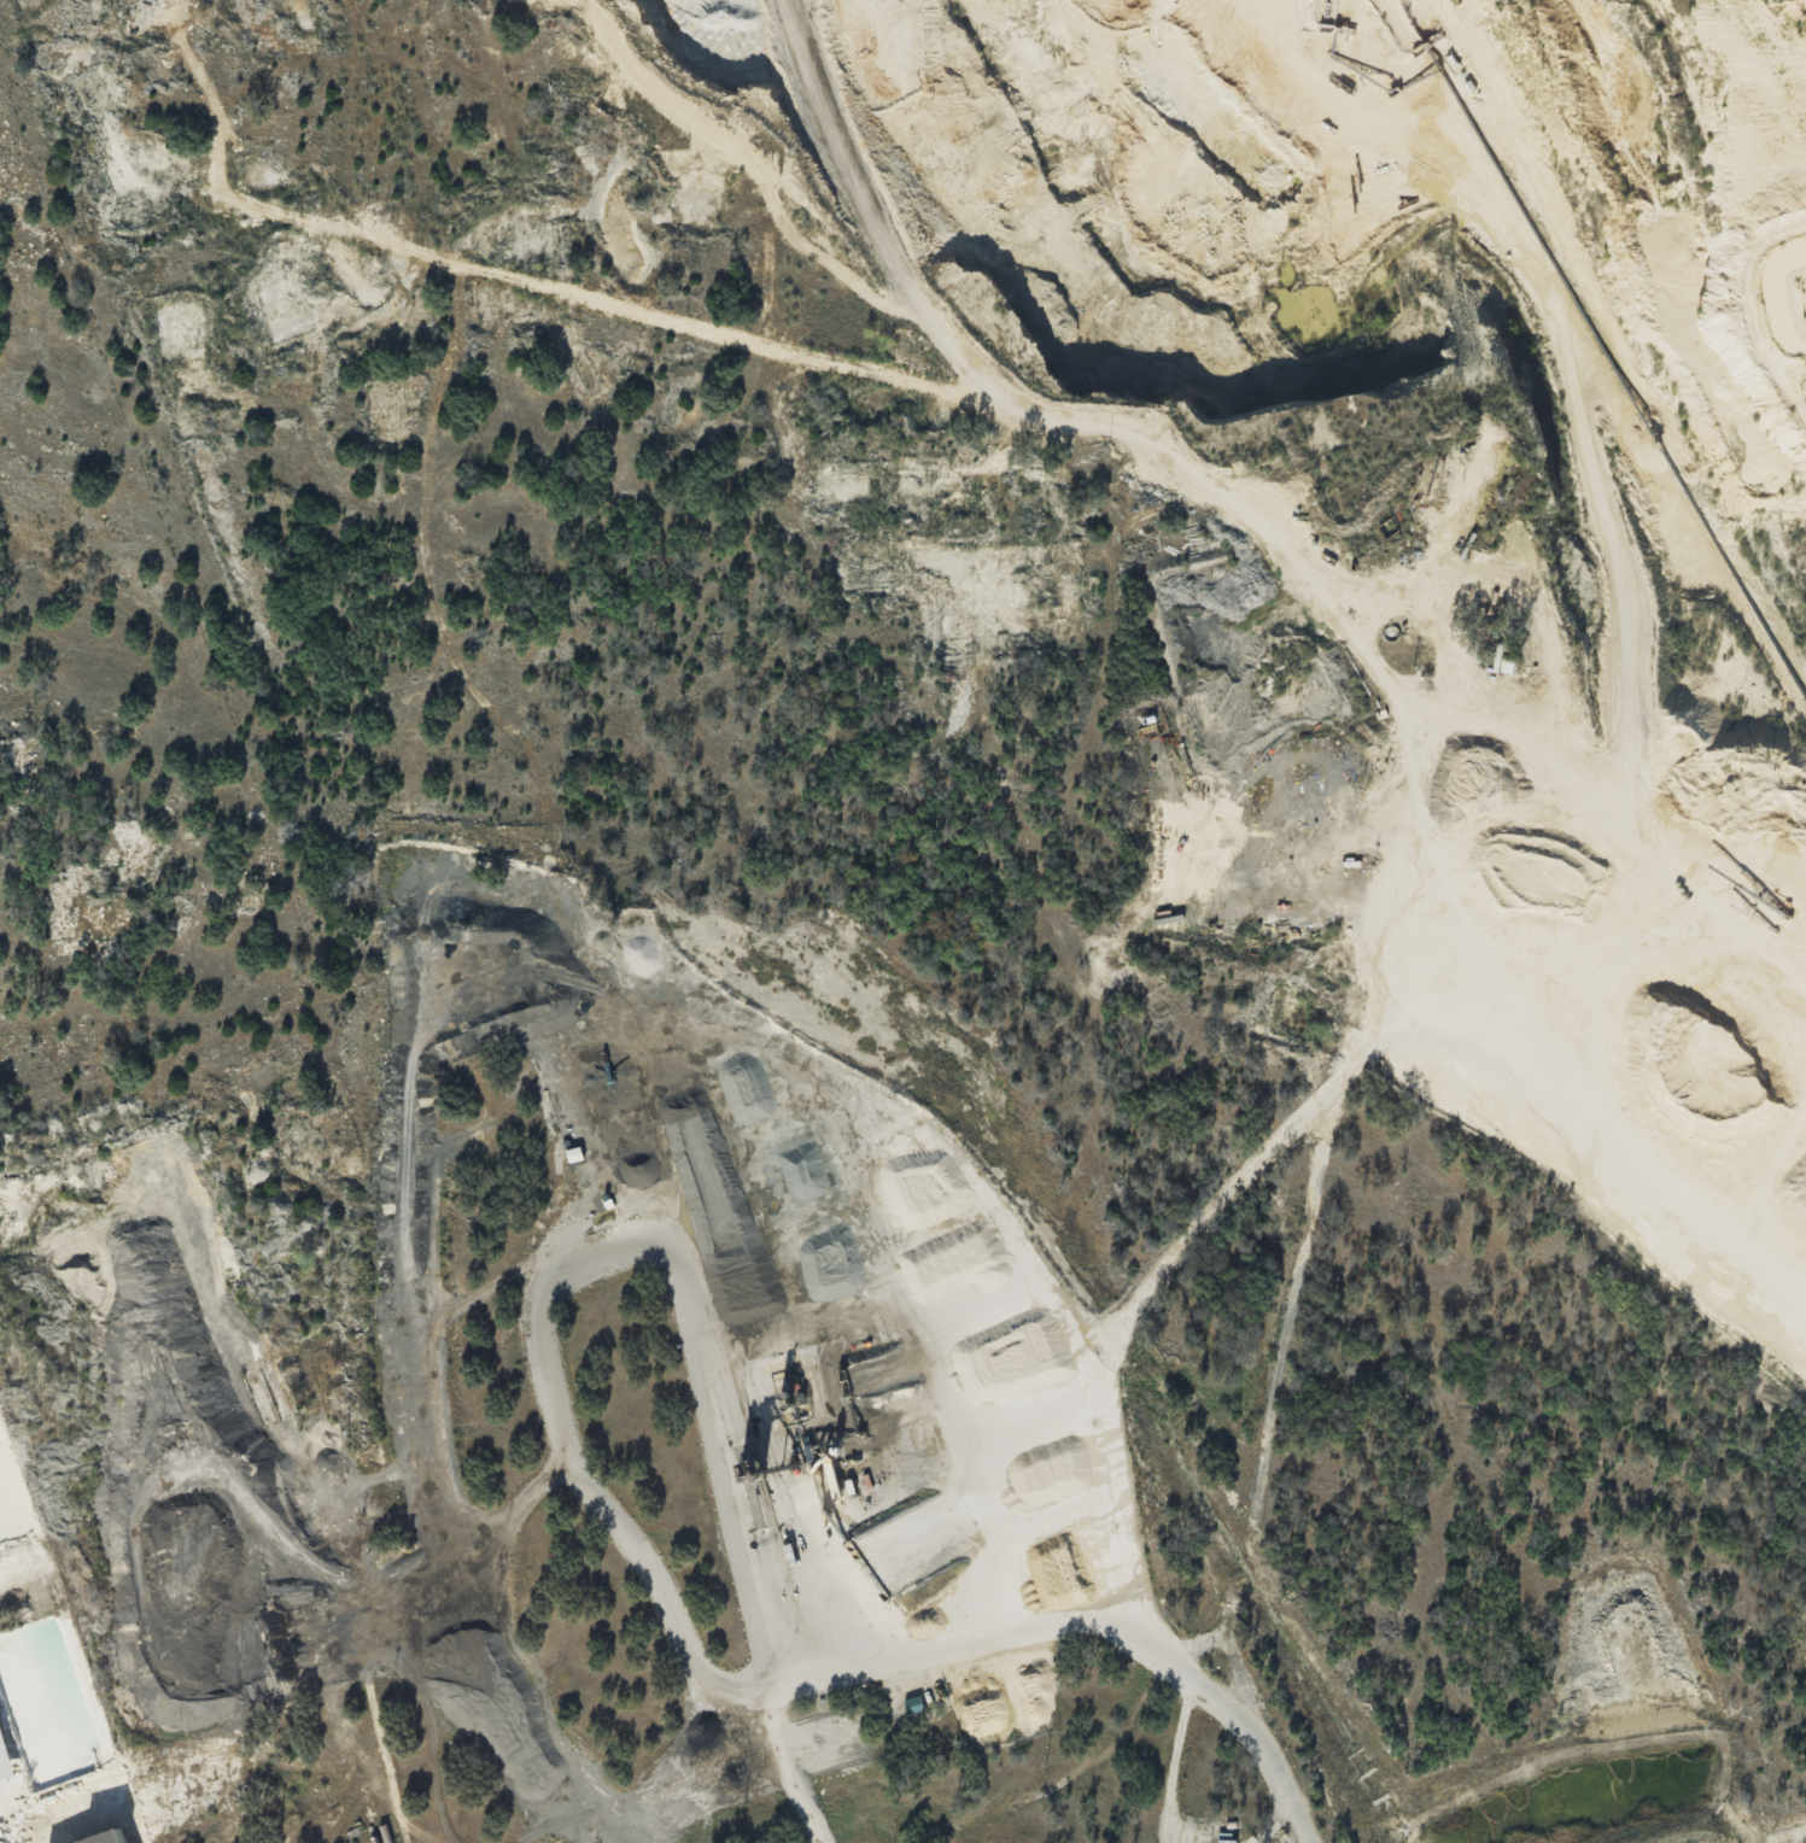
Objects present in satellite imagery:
quarry: (1407, 491)
building: (573, 1153)
road: (1006, 1628)
quarry: (58, 1672)
building: (913, 1704)
building: (6, 1755)
building: (113, 1837)
building: (1226, 1837)

